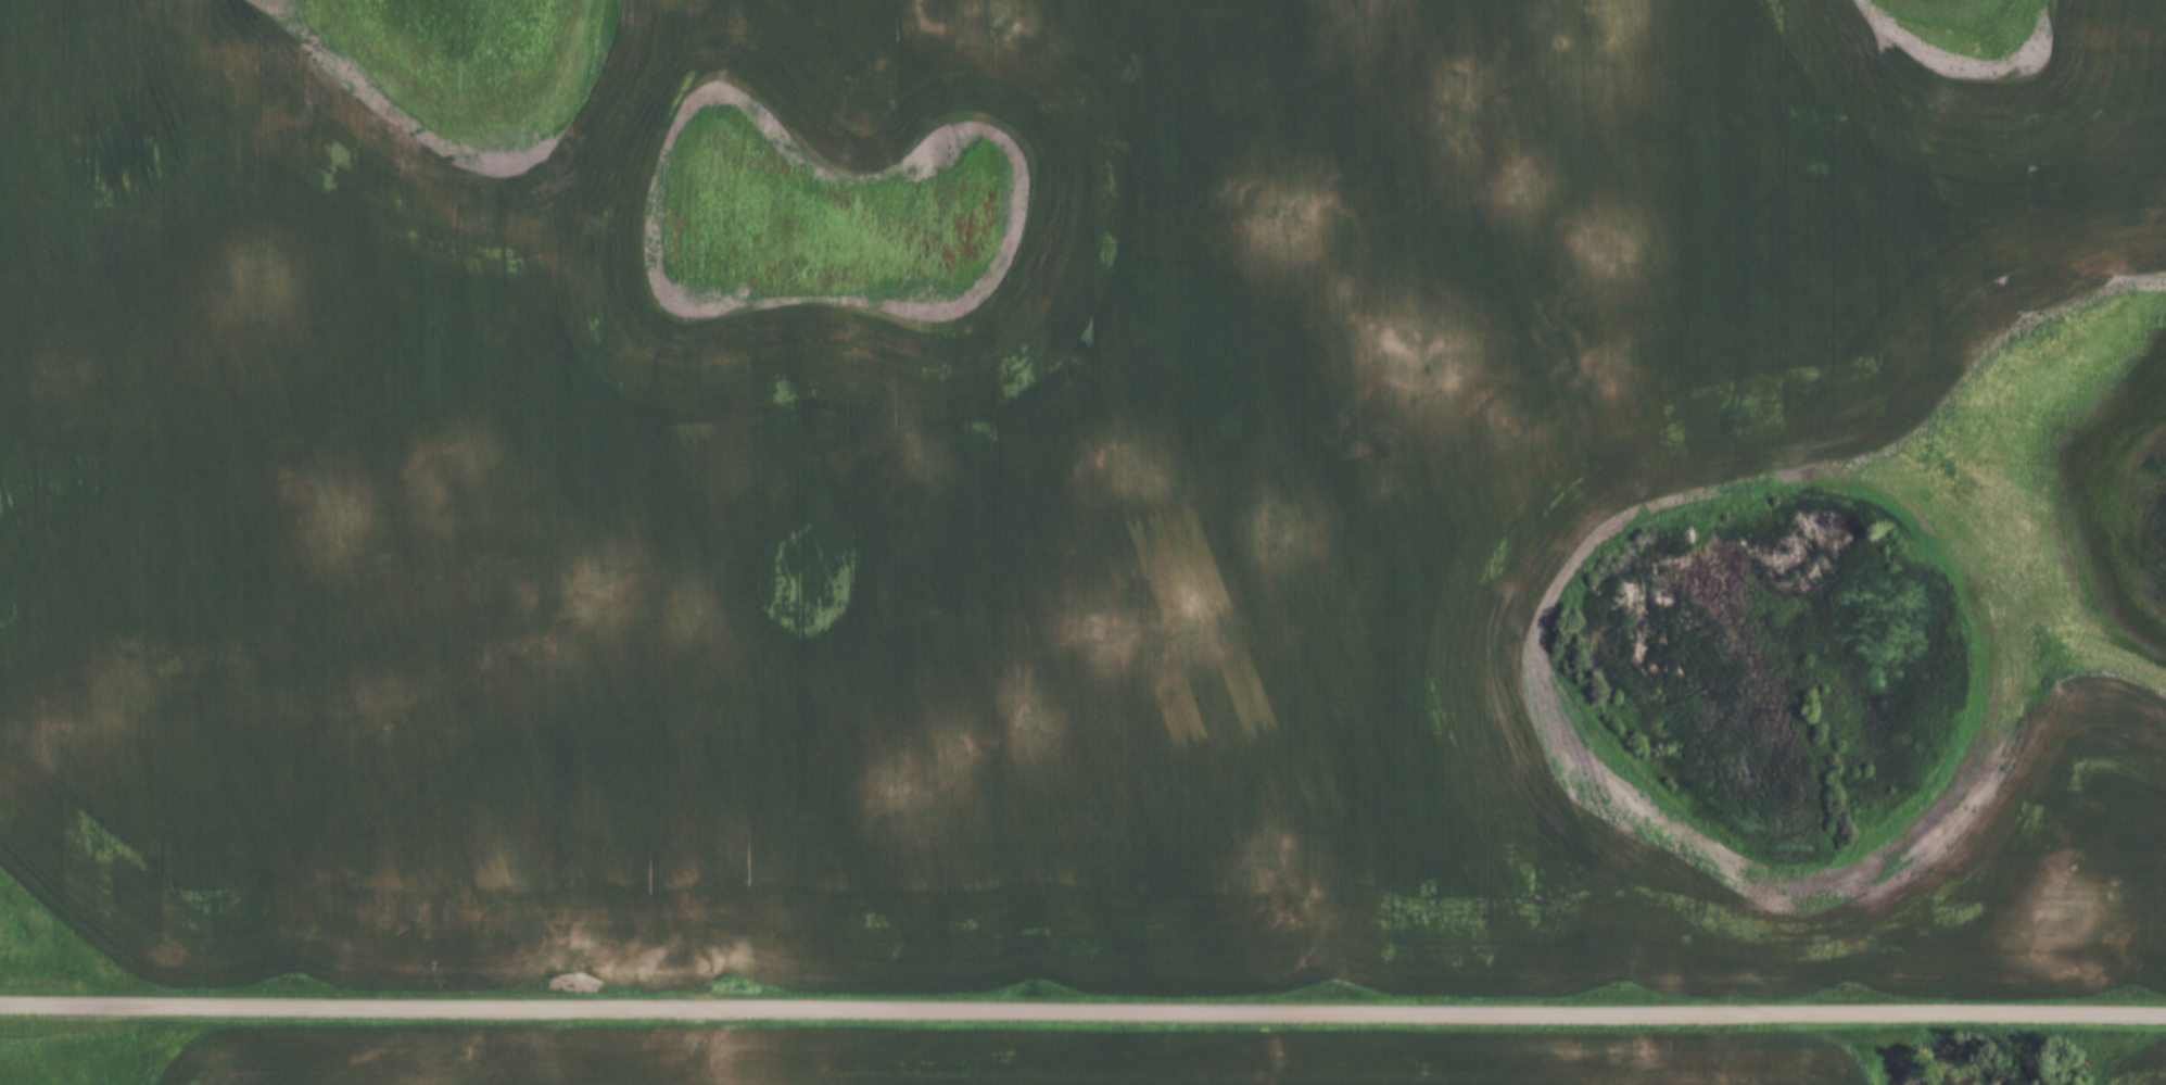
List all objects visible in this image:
road: (1082, 1011)

